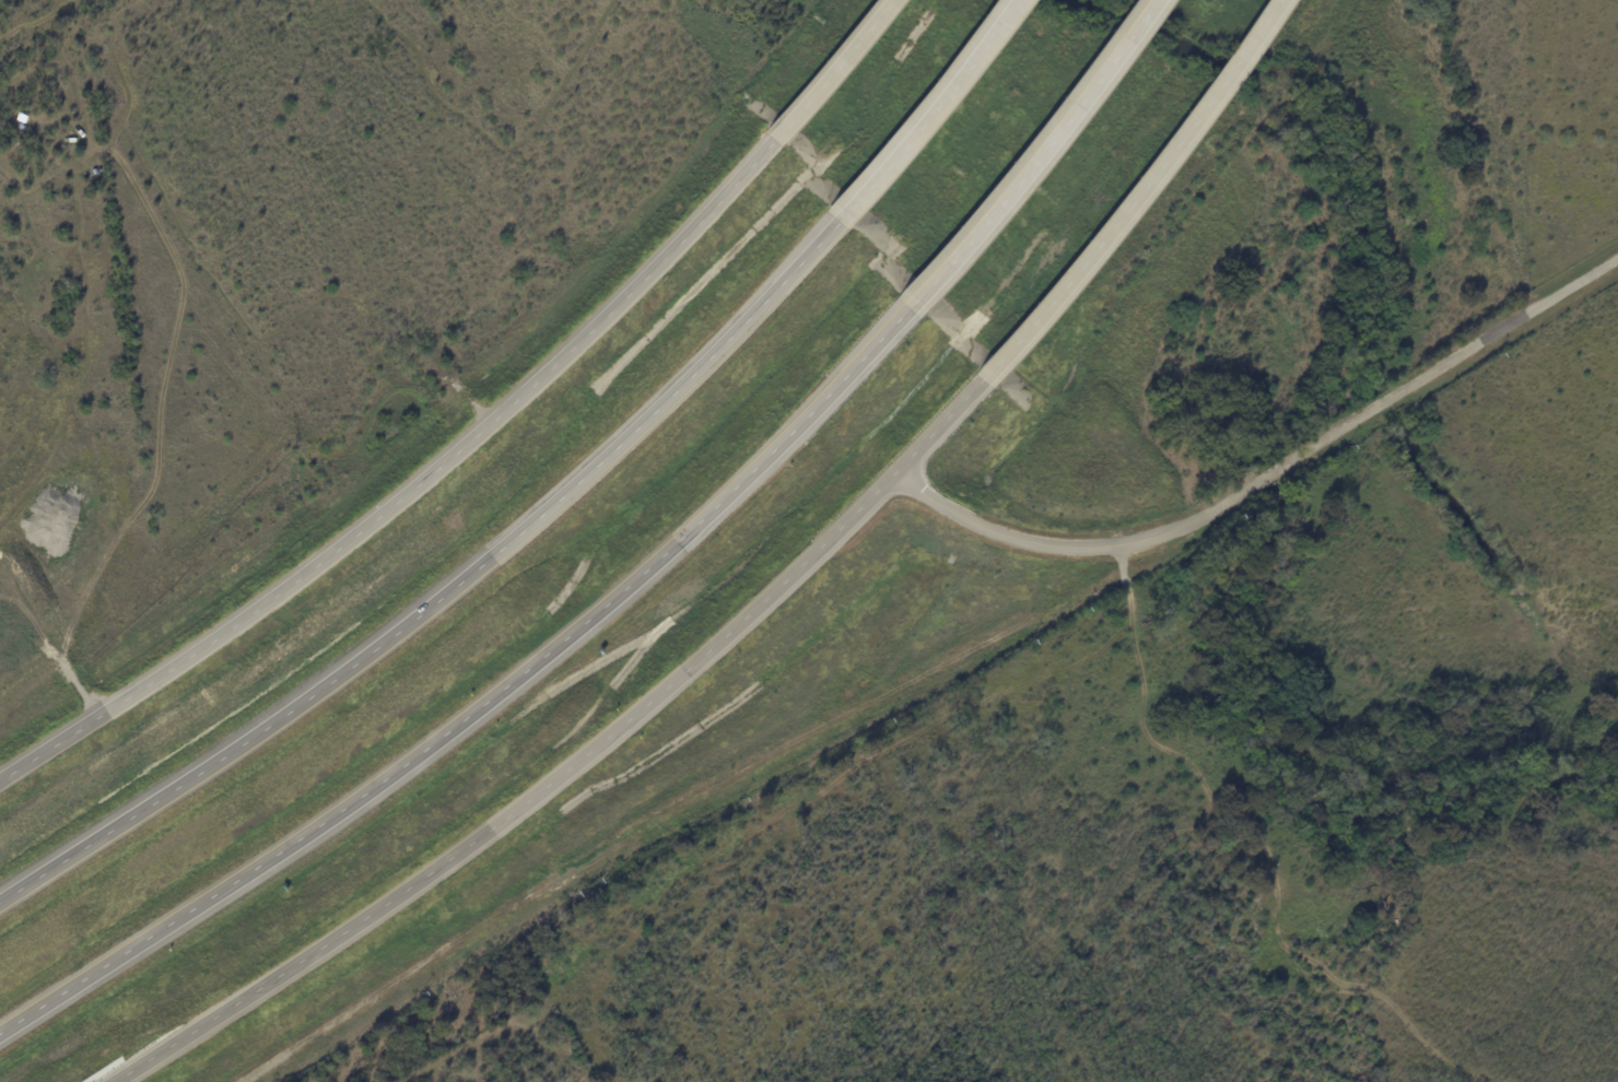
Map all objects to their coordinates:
road: (832, 69)
road: (928, 113)
road: (1039, 154)
road: (1139, 193)
road: (1271, 475)
road: (412, 486)
road: (442, 590)
road: (52, 660)
road: (485, 703)
road: (574, 762)

